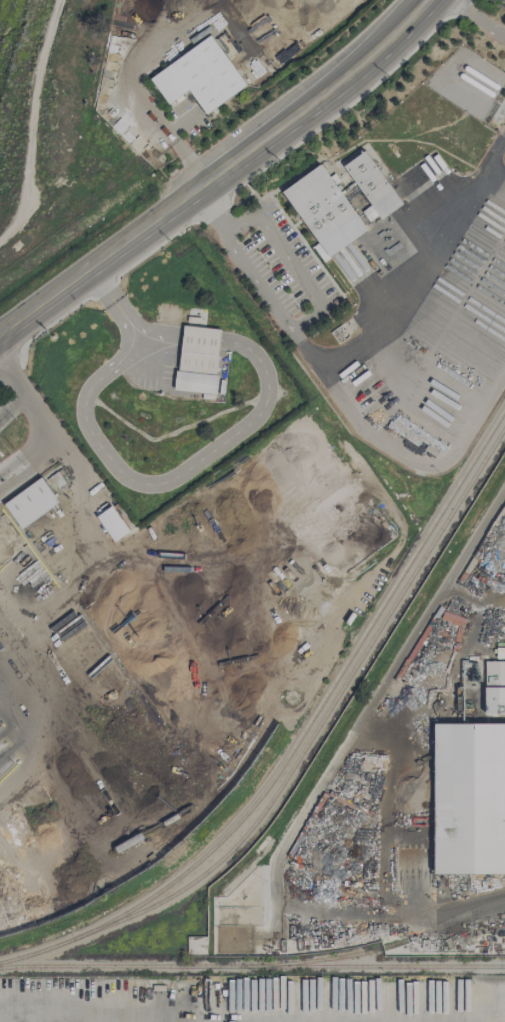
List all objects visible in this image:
road: (483, 15)
quarry: (8, 36)
building: (199, 76)
road: (141, 93)
road: (216, 171)
road: (497, 173)
building: (373, 184)
road: (216, 202)
building: (324, 211)
road: (293, 256)
road: (427, 267)
road: (258, 278)
road: (113, 301)
road: (201, 340)
road: (310, 349)
building: (198, 359)
road: (415, 360)
road: (83, 404)
road: (254, 417)
road: (49, 436)
road: (417, 461)
building: (31, 502)
building: (112, 523)
road: (472, 595)
railway: (319, 705)
road: (62, 713)
railway: (322, 719)
road: (316, 793)
building: (469, 798)
road: (392, 807)
railway: (385, 947)
railway: (35, 952)
railway: (252, 967)
road: (489, 1003)
road: (76, 1018)

